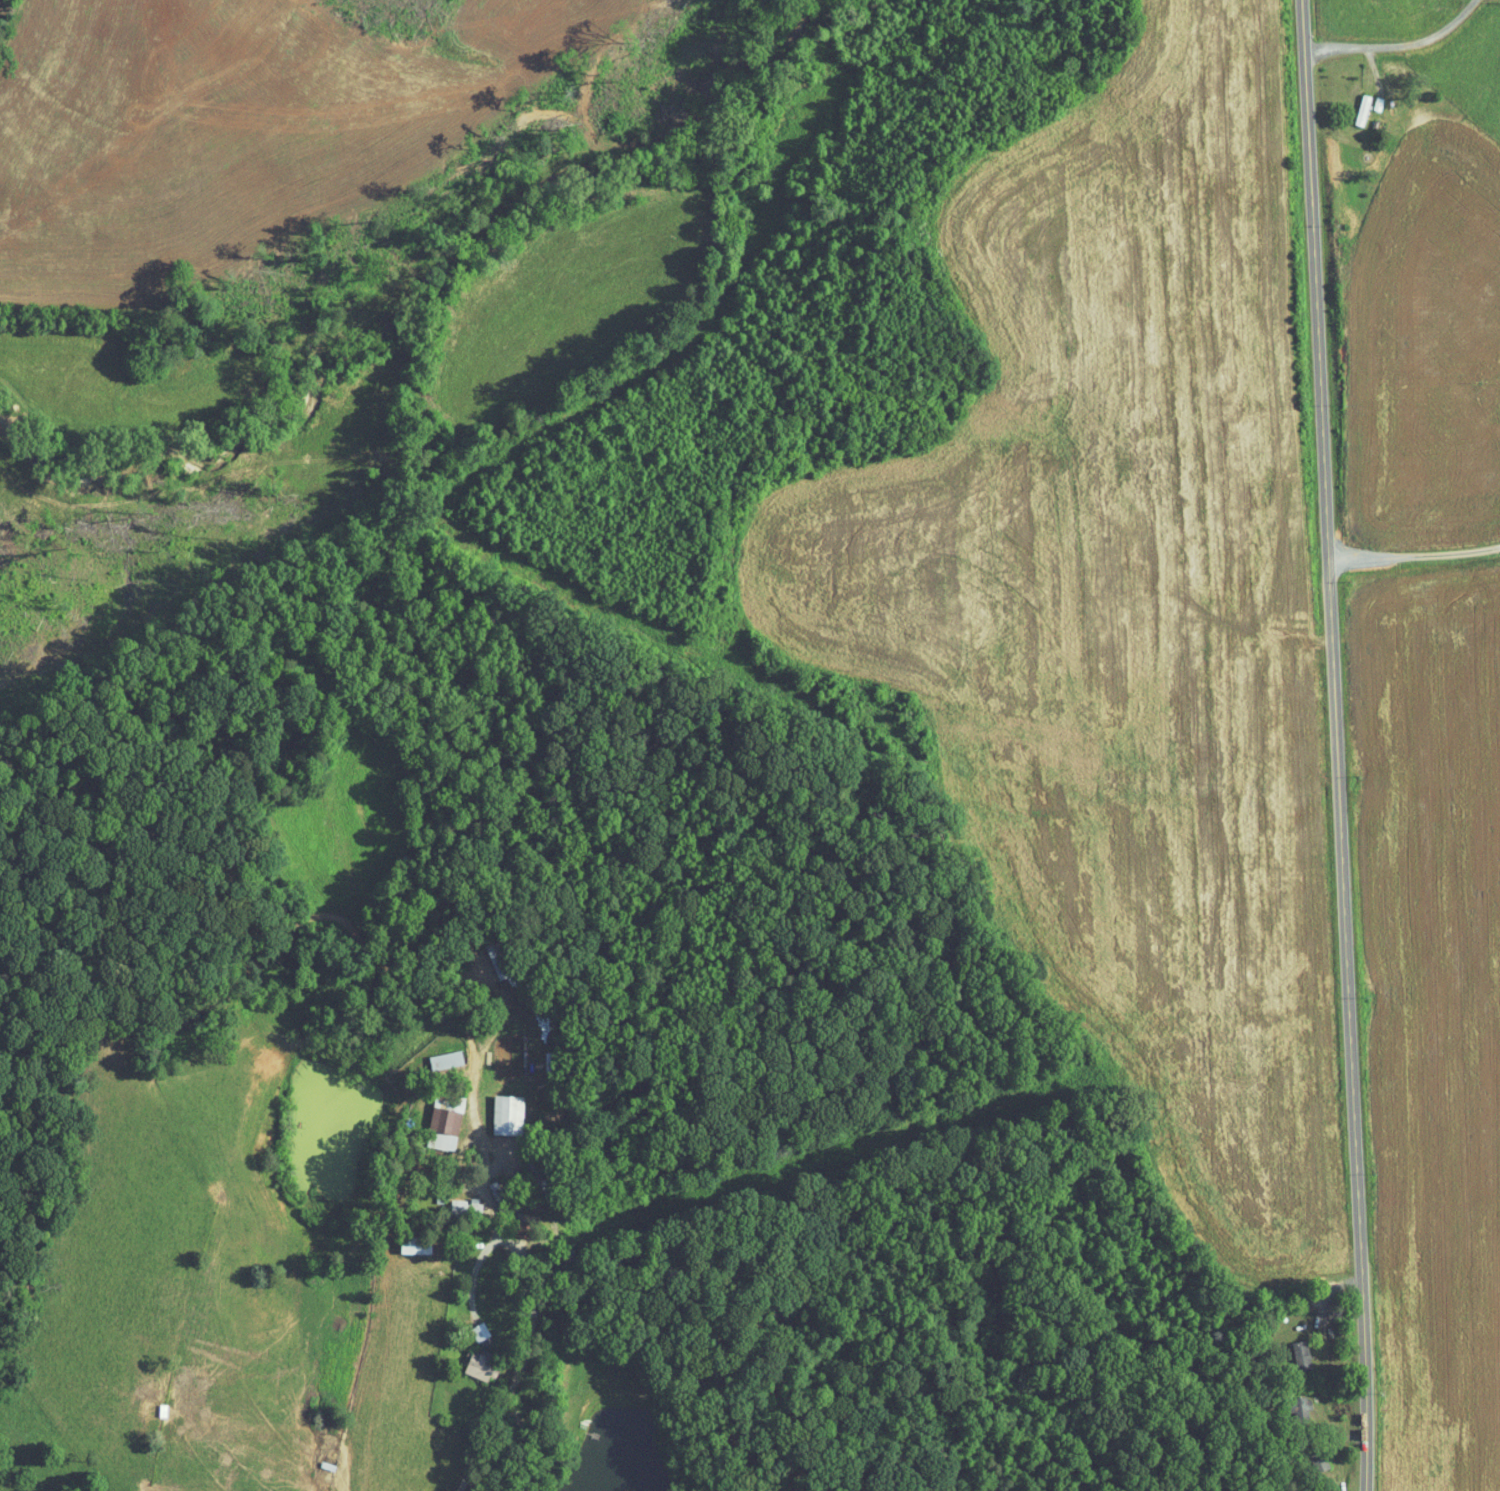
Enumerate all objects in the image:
road: (1394, 44)
building: (1359, 109)
road: (1379, 153)
road: (1413, 556)
road: (1233, 627)
road: (1336, 745)
building: (511, 1114)
building: (447, 1127)
building: (524, 1224)
building: (482, 1331)
road: (1330, 1335)
building: (482, 1367)
road: (466, 1435)
road: (1331, 1435)
road: (1346, 1474)

